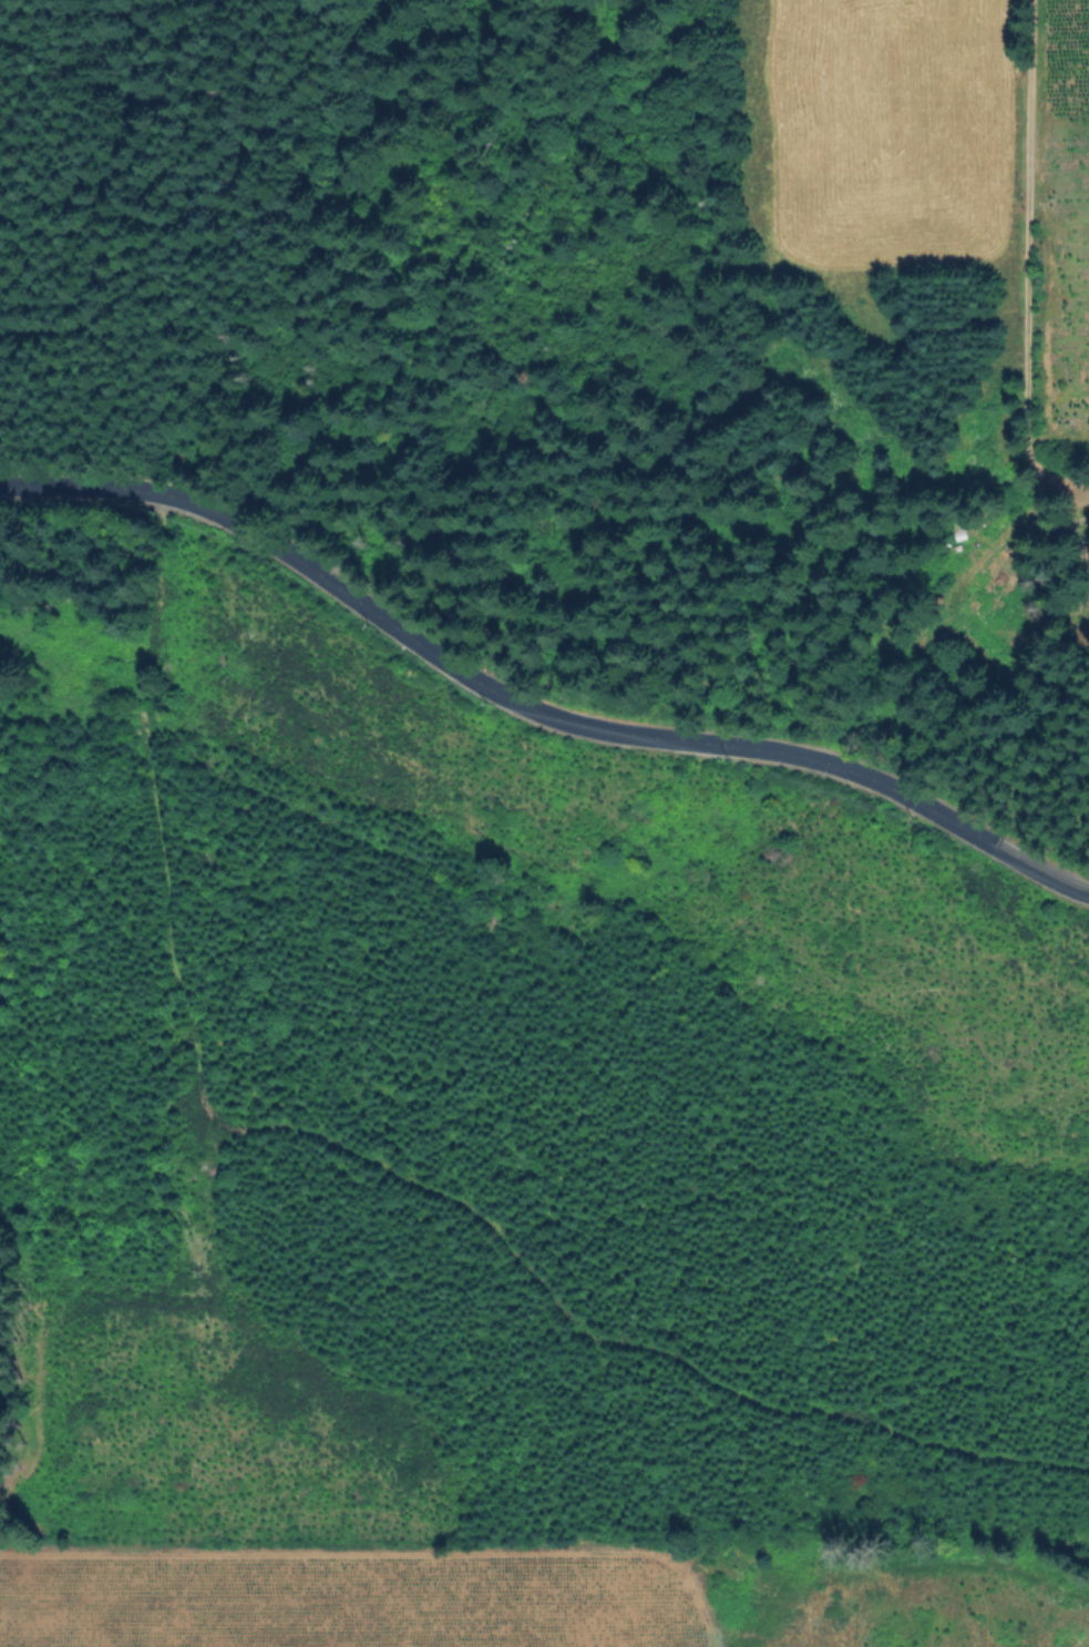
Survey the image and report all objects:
road: (1057, 218)
road: (533, 705)

